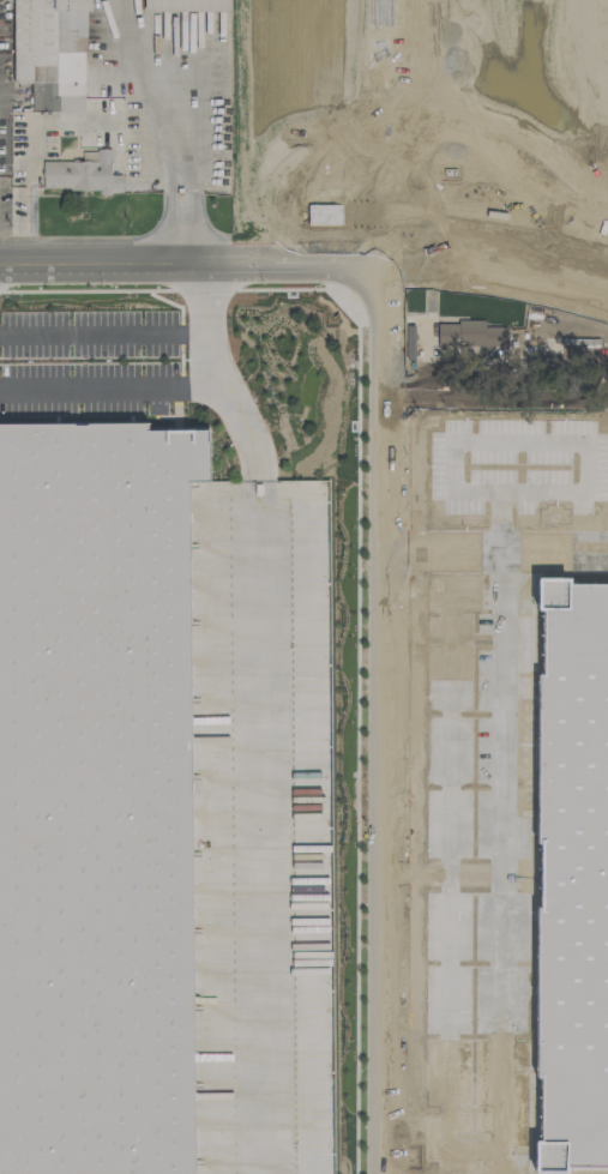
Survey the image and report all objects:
building: (185, 5)
building: (49, 52)
road: (384, 125)
building: (493, 136)
road: (183, 147)
building: (80, 174)
road: (192, 253)
road: (498, 257)
road: (209, 320)
road: (106, 333)
building: (469, 333)
road: (477, 386)
road: (114, 390)
road: (554, 543)
road: (496, 699)
road: (381, 711)
road: (257, 777)
building: (91, 787)
building: (574, 866)
road: (440, 998)
road: (492, 1157)

